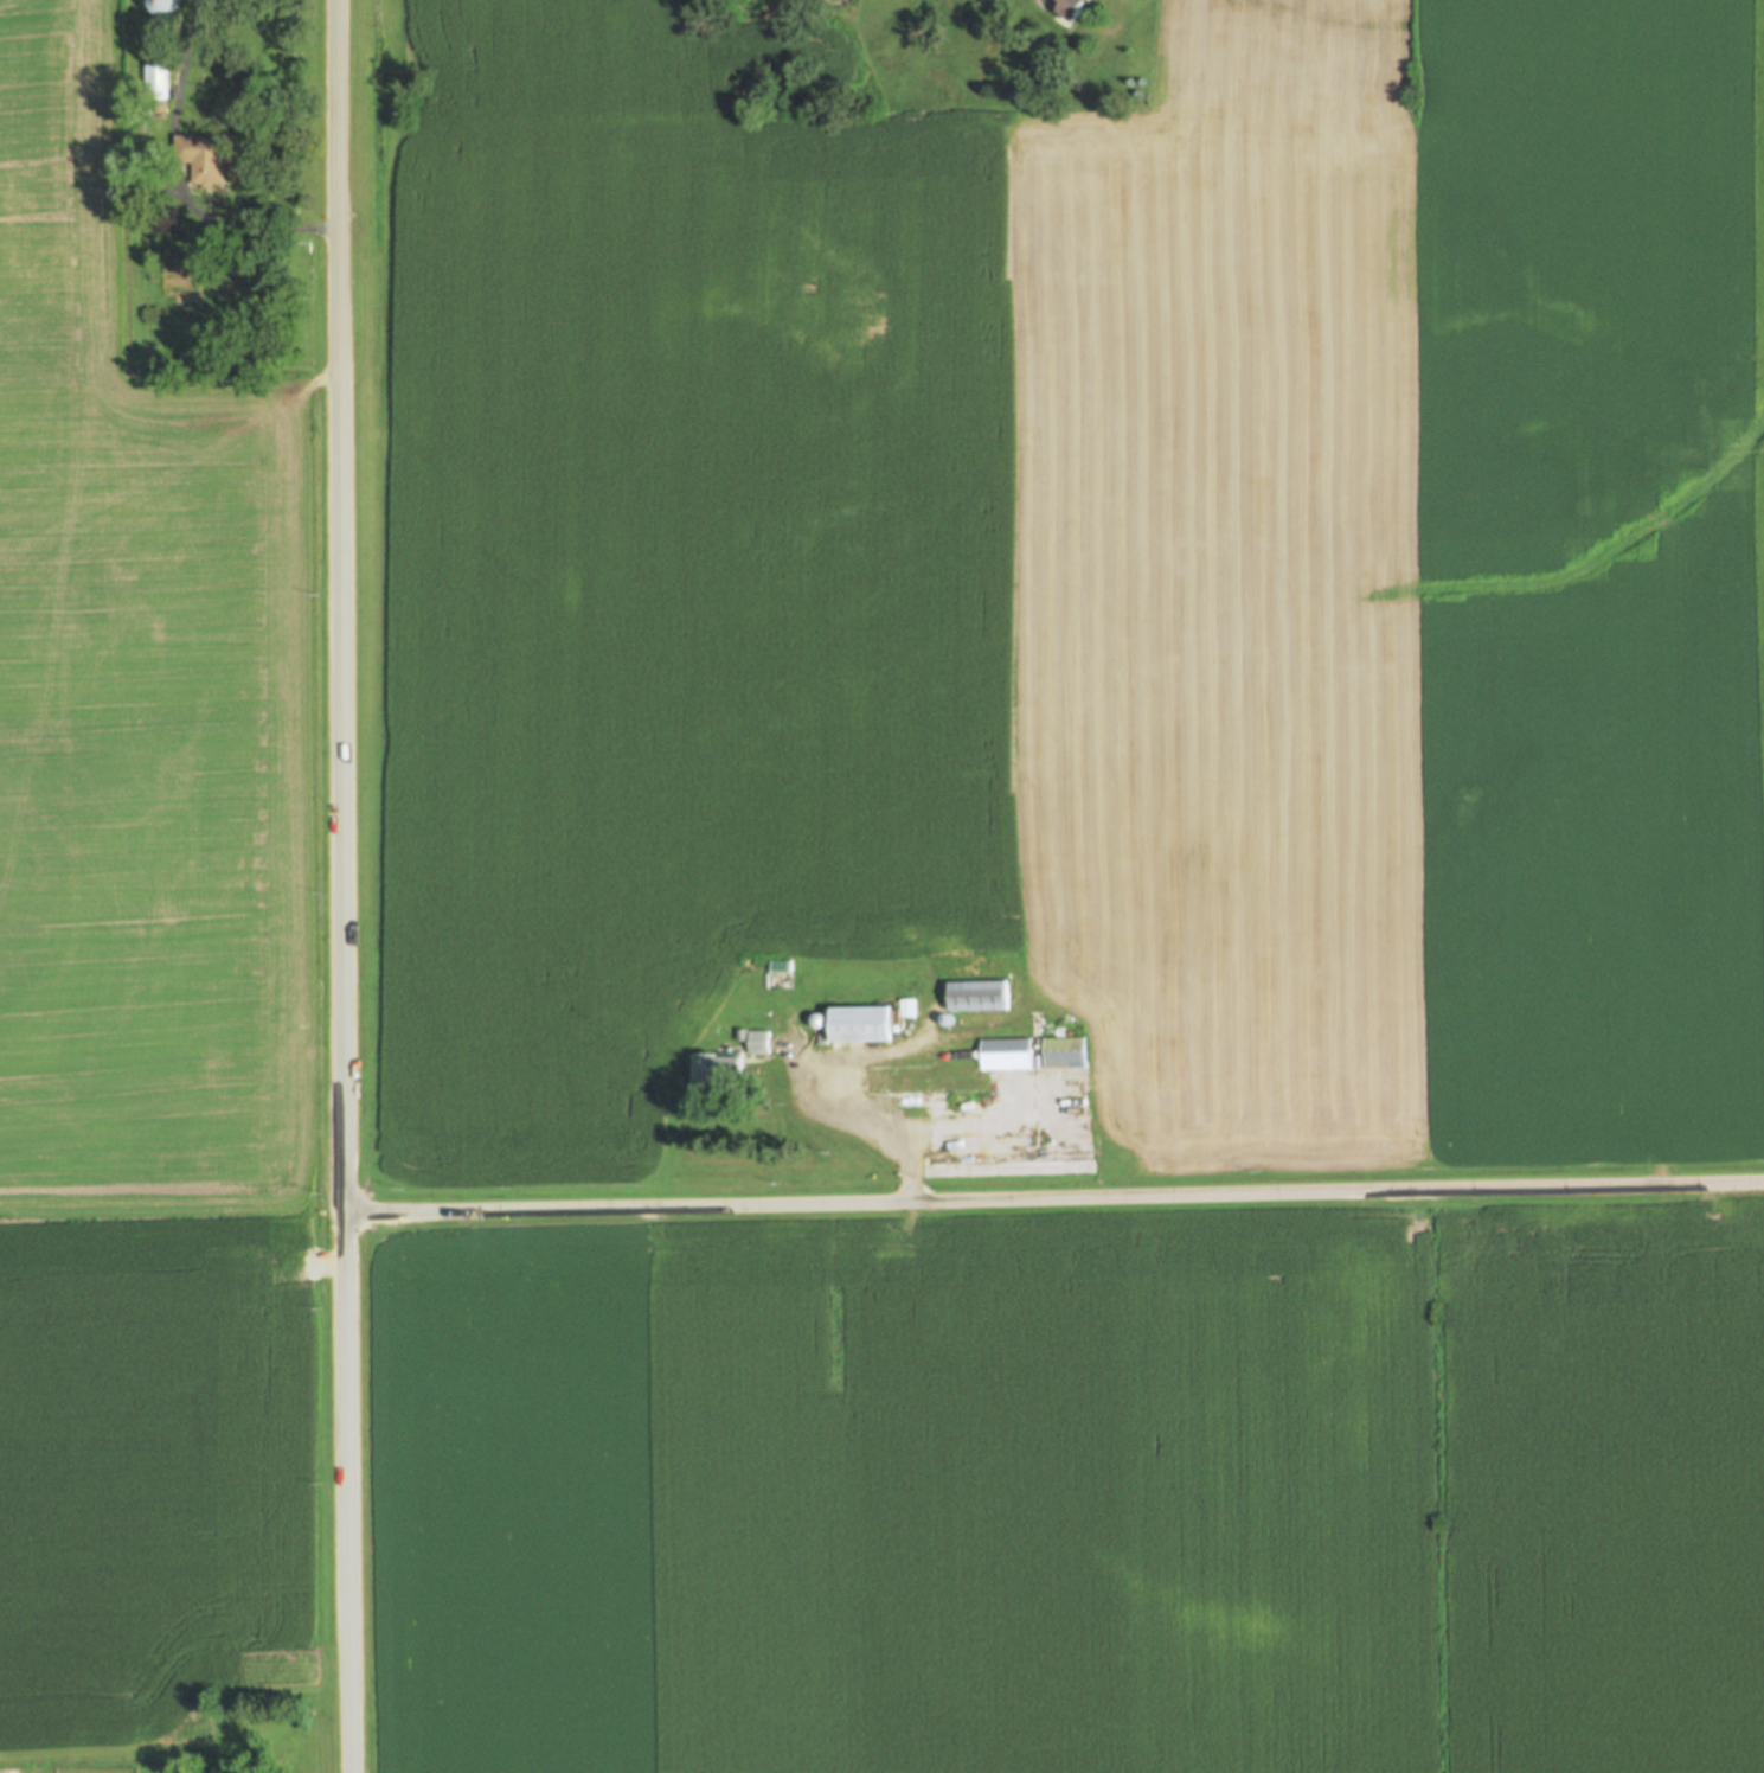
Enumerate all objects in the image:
building: (1075, 8)
building: (156, 83)
building: (206, 155)
road: (173, 181)
road: (342, 886)
building: (780, 965)
building: (977, 996)
building: (906, 1009)
building: (945, 1019)
building: (816, 1020)
building: (858, 1024)
building: (742, 1035)
building: (759, 1042)
building: (1064, 1052)
road: (864, 1056)
building: (719, 1067)
building: (926, 1075)
building: (980, 1099)
building: (960, 1102)
road: (822, 1118)
building: (922, 1145)
building: (612, 1158)
road: (1054, 1199)
road: (150, 1761)
building: (118, 1769)

